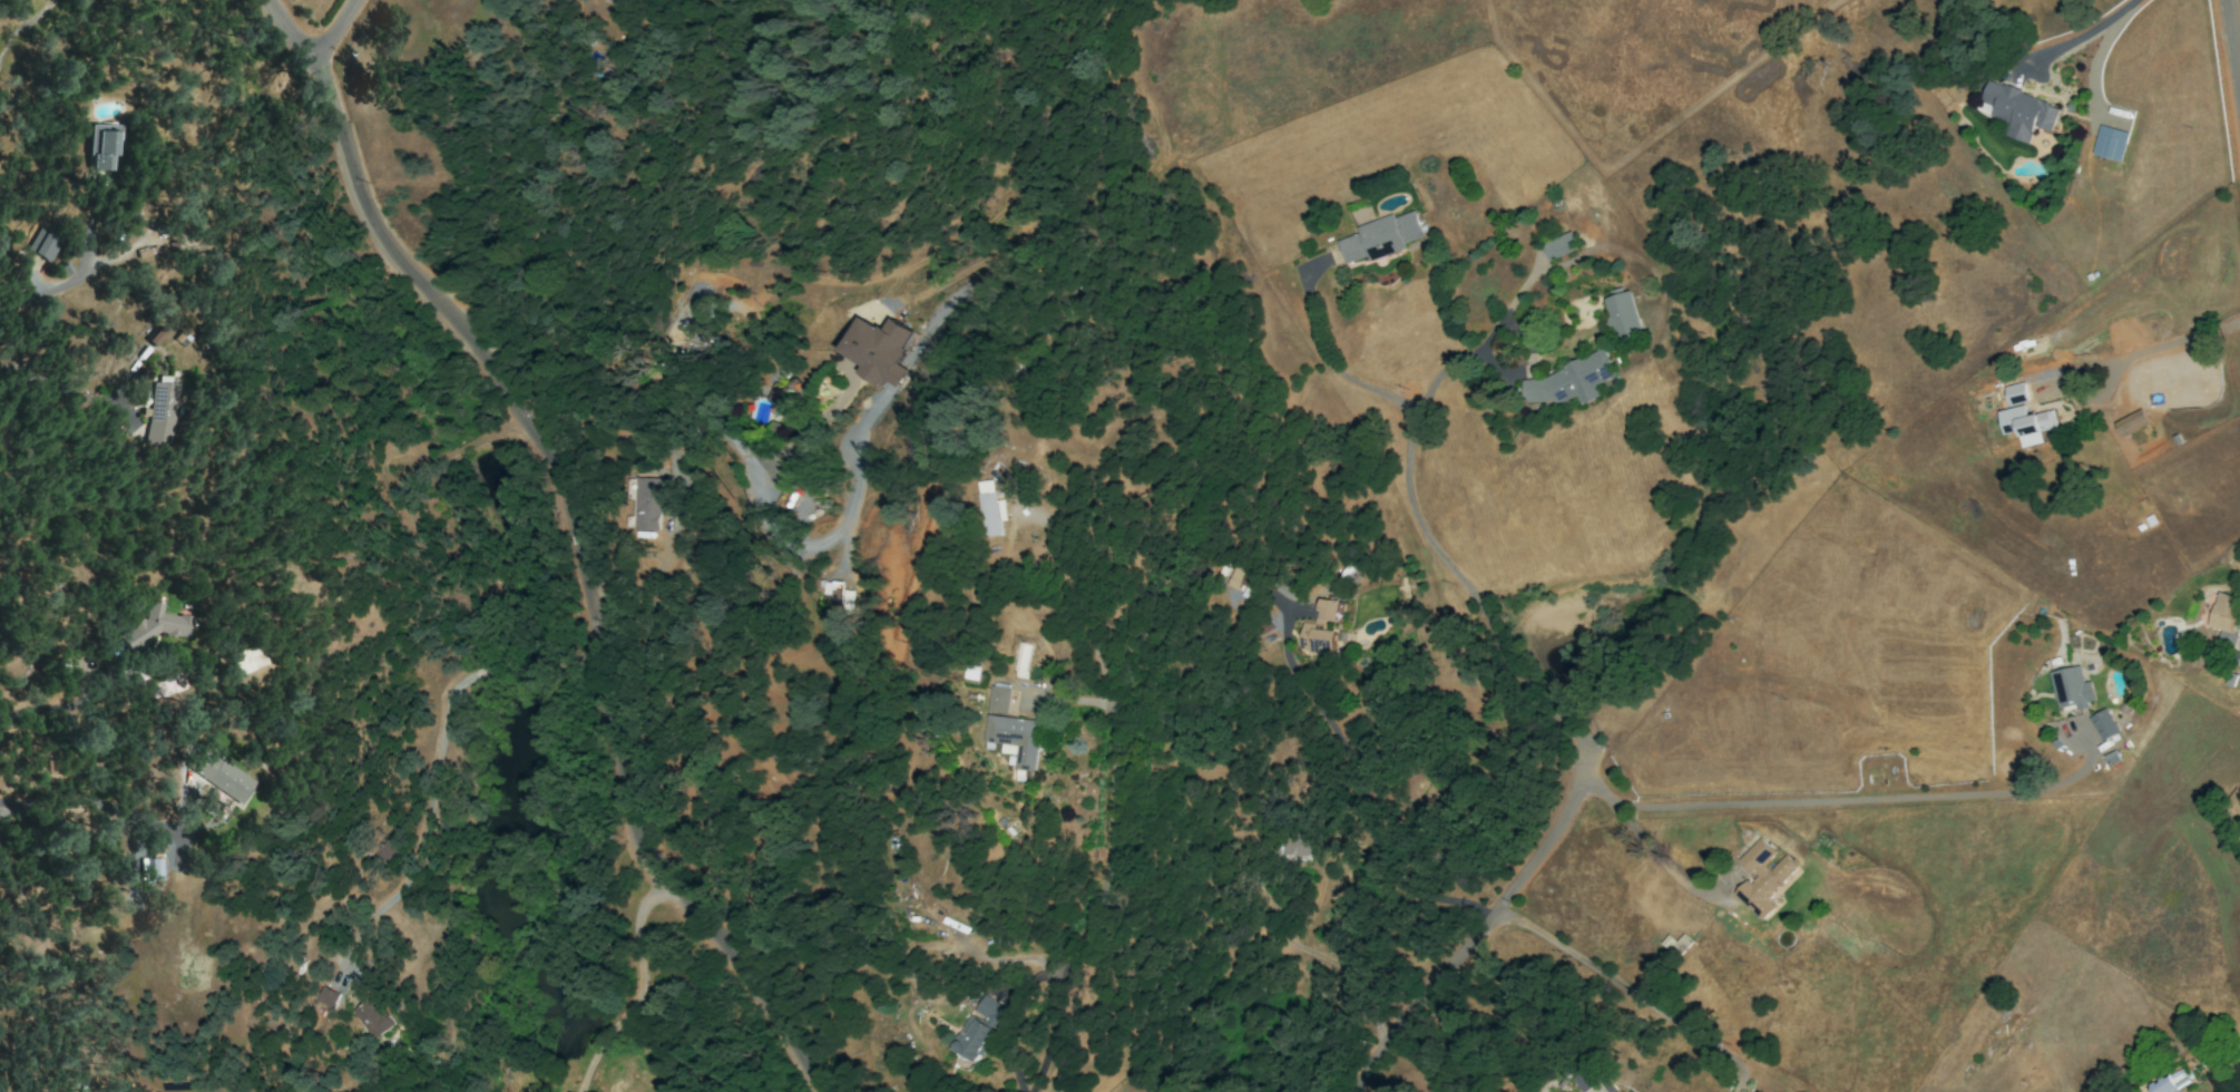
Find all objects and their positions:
road: (333, 28)
road: (2078, 37)
road: (2232, 48)
road: (2238, 65)
building: (2018, 110)
building: (2110, 143)
building: (99, 147)
building: (1380, 237)
building: (41, 245)
building: (1559, 246)
road: (67, 282)
building: (1622, 315)
building: (153, 338)
road: (2177, 349)
building: (878, 350)
road: (1447, 365)
building: (1567, 381)
building: (2014, 393)
road: (2062, 400)
building: (785, 407)
building: (162, 413)
building: (2025, 421)
building: (2130, 422)
building: (645, 504)
building: (994, 509)
road: (1416, 514)
road: (566, 536)
building: (2224, 616)
building: (153, 626)
building: (1321, 628)
building: (243, 660)
building: (2071, 688)
building: (999, 700)
building: (2103, 724)
building: (1016, 739)
road: (436, 759)
building: (222, 778)
road: (1106, 798)
building: (2234, 801)
road: (98, 803)
road: (1362, 803)
road: (1819, 810)
building: (1299, 847)
road: (1663, 861)
building: (150, 870)
building: (1762, 878)
road: (1496, 929)
road: (640, 989)
road: (1634, 996)
building: (326, 997)
building: (988, 1010)
building: (370, 1017)
building: (975, 1040)
building: (1584, 1080)
building: (2169, 1082)

